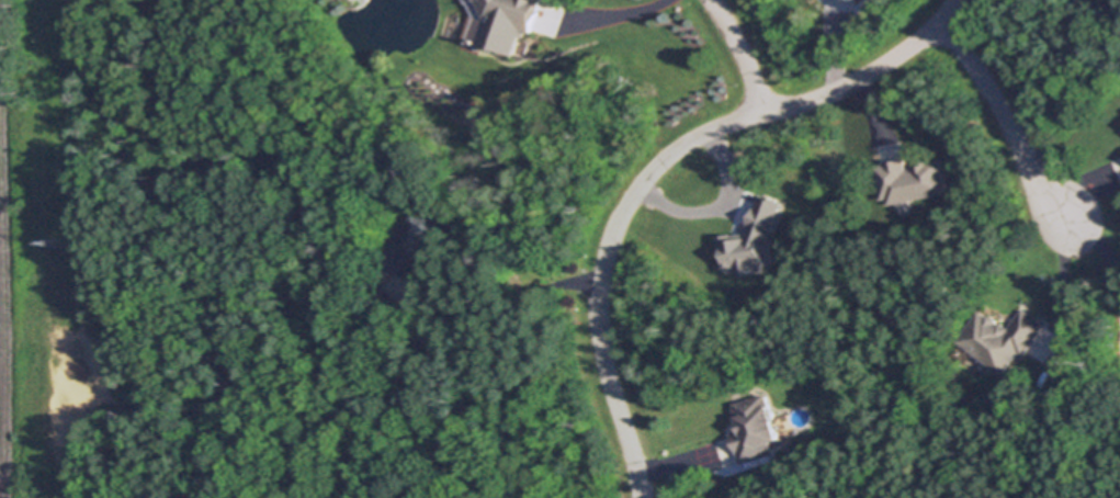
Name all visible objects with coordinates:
building: (885, 2)
road: (625, 15)
building: (510, 22)
road: (742, 55)
road: (1009, 123)
road: (658, 167)
building: (910, 179)
building: (757, 240)
building: (417, 246)
power tower: (64, 247)
road: (1104, 251)
railway: (5, 290)
road: (1085, 291)
road: (504, 312)
building: (1003, 338)
building: (431, 339)
building: (757, 427)

